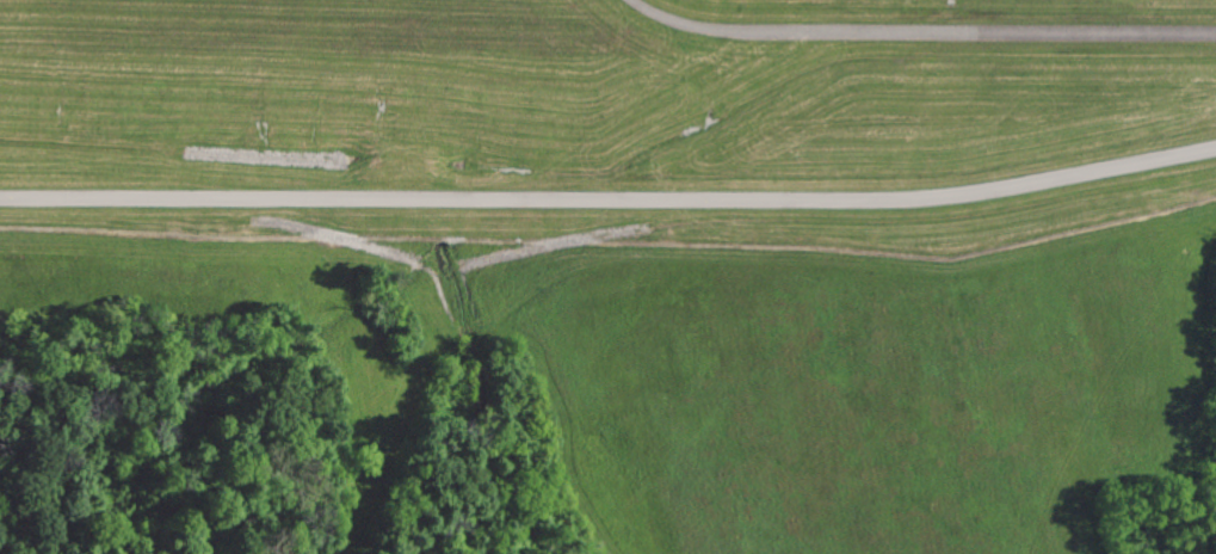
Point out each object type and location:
road: (920, 35)
airport: (605, 121)
road: (610, 198)

